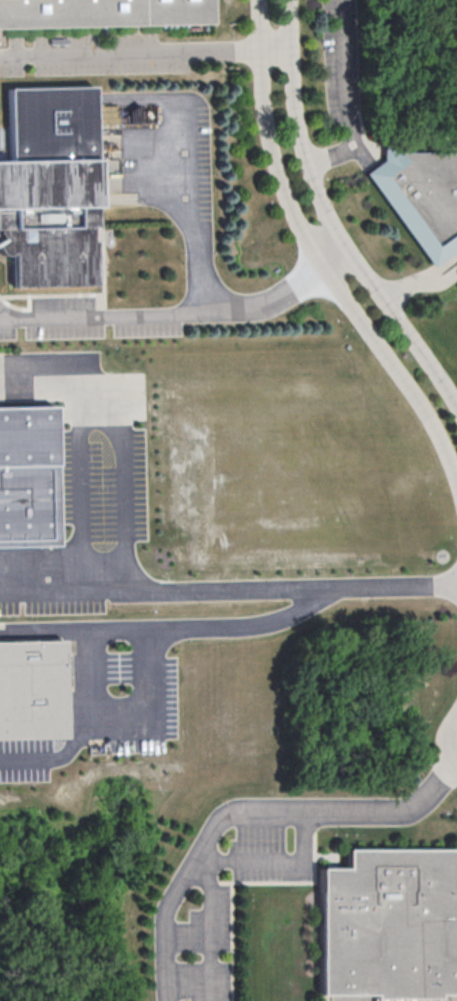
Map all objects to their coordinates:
building: (101, 13)
road: (276, 50)
parking lot: (95, 57)
road: (130, 57)
parking lot: (343, 62)
road: (349, 99)
parking lot: (170, 160)
building: (49, 188)
building: (421, 197)
road: (194, 210)
road: (330, 218)
road: (316, 254)
road: (336, 258)
road: (168, 316)
road: (2, 317)
parking lot: (8, 326)
road: (119, 436)
building: (26, 477)
road: (80, 482)
parking lot: (104, 483)
road: (290, 588)
road: (62, 593)
parking lot: (52, 601)
road: (242, 626)
road: (74, 630)
parking lot: (119, 669)
building: (31, 690)
parking lot: (167, 694)
road: (122, 734)
road: (451, 741)
parking lot: (26, 760)
road: (251, 816)
parking lot: (266, 857)
road: (272, 860)
parking lot: (207, 925)
building: (388, 925)
road: (211, 930)
parking lot: (202, 982)

